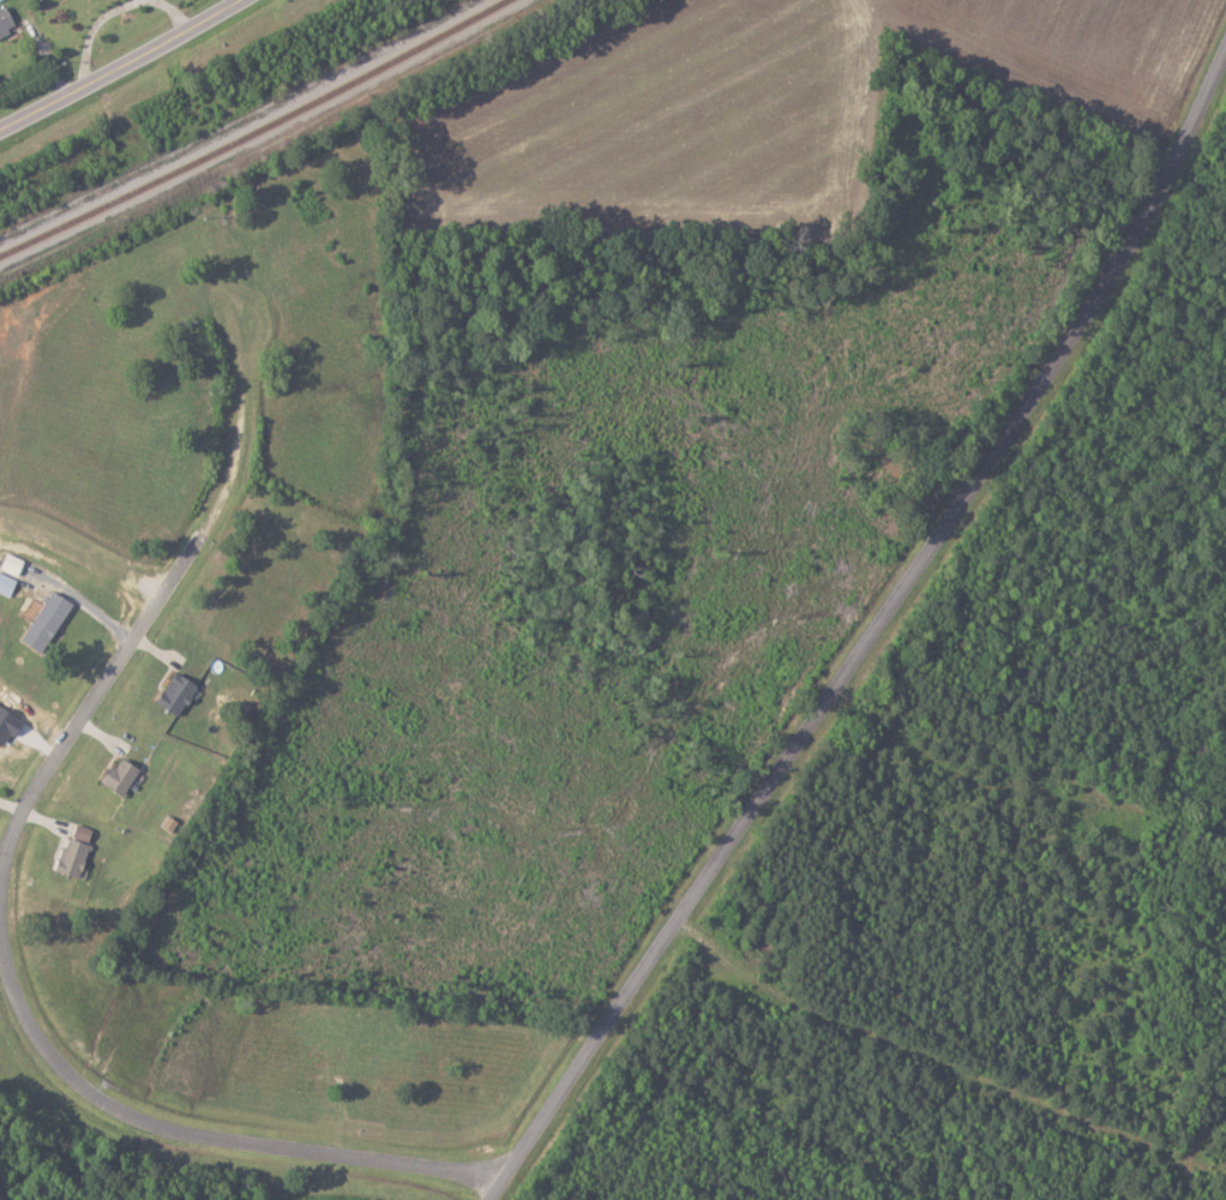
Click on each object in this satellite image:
building: (6, 19)
road: (121, 65)
railway: (252, 130)
building: (13, 564)
building: (7, 583)
building: (48, 620)
road: (873, 634)
building: (179, 694)
building: (122, 775)
building: (77, 850)
road: (26, 1014)

